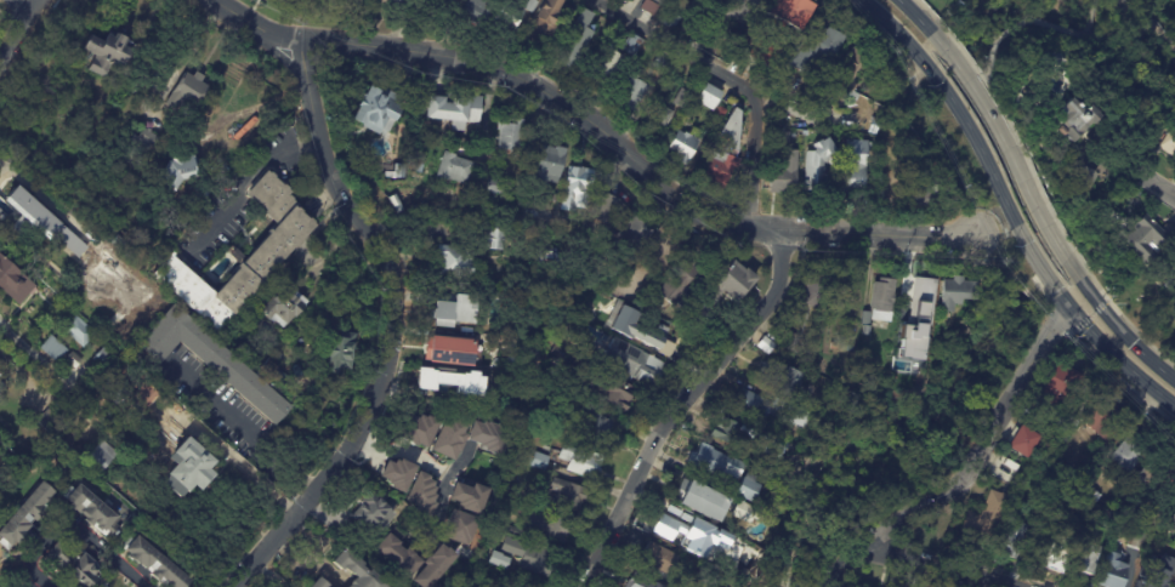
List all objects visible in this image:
building: (396, 1)
building: (448, 1)
building: (658, 1)
building: (532, 6)
building: (739, 10)
building: (477, 11)
building: (572, 13)
road: (916, 16)
building: (513, 18)
road: (1090, 18)
building: (670, 19)
road: (1150, 22)
road: (1045, 25)
building: (545, 27)
road: (13, 29)
building: (687, 29)
building: (779, 29)
building: (575, 40)
building: (634, 45)
building: (814, 49)
building: (103, 50)
park: (1090, 50)
building: (607, 67)
building: (852, 70)
road: (732, 82)
building: (188, 89)
building: (631, 93)
building: (709, 97)
building: (683, 99)
building: (378, 109)
building: (455, 110)
building: (662, 116)
building: (716, 118)
building: (1073, 121)
road: (603, 124)
building: (874, 126)
building: (245, 129)
building: (732, 131)
building: (512, 132)
building: (782, 138)
building: (1169, 143)
building: (138, 148)
building: (683, 148)
road: (1007, 154)
building: (549, 165)
building: (818, 166)
building: (455, 167)
building: (420, 169)
building: (719, 170)
building: (176, 171)
building: (855, 171)
building: (221, 172)
road: (1142, 173)
building: (785, 176)
building: (1082, 179)
road: (245, 182)
building: (496, 186)
building: (575, 189)
building: (205, 192)
building: (879, 196)
building: (920, 196)
building: (397, 204)
building: (603, 207)
building: (2, 210)
building: (532, 210)
road: (1007, 211)
building: (45, 222)
parking lot: (214, 227)
building: (636, 232)
building: (1143, 236)
building: (495, 239)
building: (118, 244)
building: (662, 255)
building: (544, 256)
building: (242, 258)
building: (454, 262)
building: (16, 281)
building: (733, 281)
traffic signals: (1078, 281)
building: (679, 284)
building: (528, 286)
building: (816, 286)
building: (630, 289)
building: (924, 293)
building: (958, 293)
park: (1133, 295)
building: (882, 300)
building: (530, 301)
traffic signals: (1065, 304)
building: (284, 306)
building: (454, 310)
building: (865, 318)
building: (625, 326)
road: (388, 331)
building: (867, 331)
building: (83, 332)
building: (560, 332)
road: (1123, 335)
road: (15, 336)
building: (671, 338)
building: (301, 342)
building: (791, 342)
building: (903, 343)
building: (838, 346)
building: (56, 349)
building: (452, 351)
building: (340, 353)
building: (561, 354)
building: (104, 355)
building: (75, 360)
building: (211, 360)
building: (634, 363)
building: (268, 369)
road: (22, 370)
building: (296, 371)
building: (555, 372)
building: (280, 377)
building: (450, 380)
building: (788, 381)
building: (2, 386)
building: (1062, 386)
building: (551, 388)
building: (613, 391)
building: (118, 392)
road: (680, 403)
building: (852, 408)
building: (770, 409)
parking lot: (226, 415)
building: (1029, 418)
building: (52, 420)
building: (1105, 422)
building: (589, 423)
road: (246, 424)
building: (1072, 424)
building: (416, 431)
building: (449, 437)
building: (749, 437)
building: (1060, 437)
building: (6, 438)
building: (487, 438)
building: (1021, 441)
building: (1129, 452)
building: (1, 455)
building: (104, 457)
road: (458, 461)
building: (539, 461)
building: (705, 461)
building: (580, 462)
building: (774, 465)
building: (192, 467)
road: (970, 469)
road: (439, 471)
building: (394, 473)
building: (1001, 473)
building: (1157, 477)
building: (743, 488)
building: (421, 494)
building: (567, 494)
building: (1094, 495)
building: (467, 496)
building: (700, 501)
building: (545, 505)
building: (1123, 508)
building: (93, 509)
building: (739, 511)
building: (370, 513)
building: (28, 517)
building: (986, 518)
building: (1109, 518)
building: (1139, 518)
building: (1171, 522)
building: (459, 526)
building: (550, 526)
road: (73, 528)
building: (671, 530)
building: (1010, 537)
building: (1136, 540)
building: (512, 548)
building: (1055, 551)
building: (398, 554)
building: (657, 558)
building: (498, 559)
building: (1084, 560)
building: (539, 562)
building: (158, 564)
building: (78, 565)
building: (433, 565)
road: (931, 568)
building: (354, 571)
building: (1112, 572)
building: (1158, 572)
building: (490, 577)
building: (638, 582)
building: (317, 583)
building: (0, 586)

